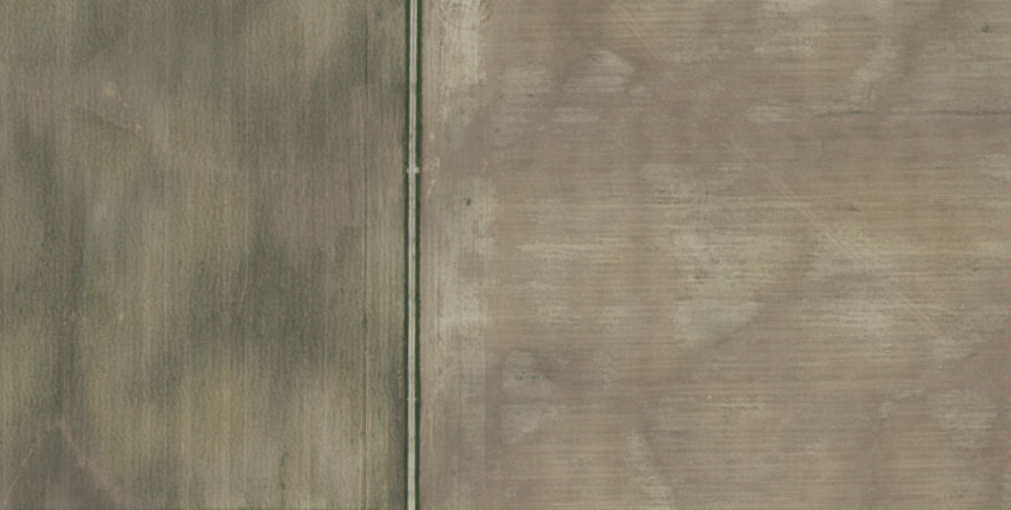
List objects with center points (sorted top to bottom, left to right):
road: (407, 254)

